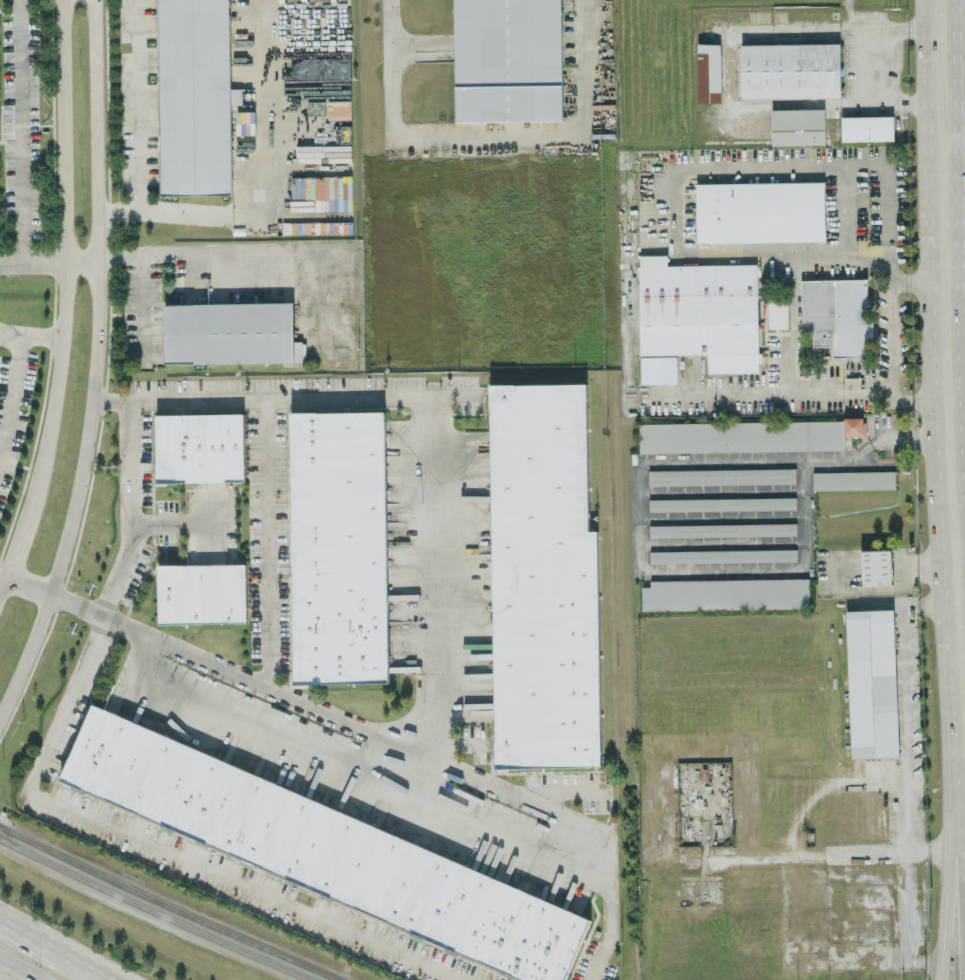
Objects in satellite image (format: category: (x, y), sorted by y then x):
road: (807, 34)
road: (866, 59)
building: (508, 60)
building: (790, 70)
building: (709, 72)
building: (195, 97)
road: (765, 104)
road: (137, 105)
building: (798, 126)
building: (867, 127)
road: (953, 128)
road: (19, 131)
road: (942, 139)
road: (487, 140)
road: (954, 186)
road: (269, 194)
road: (675, 200)
building: (760, 211)
road: (210, 250)
road: (121, 253)
road: (82, 262)
road: (32, 263)
road: (65, 265)
road: (918, 279)
road: (954, 279)
road: (142, 306)
building: (700, 311)
building: (777, 313)
building: (836, 315)
road: (792, 328)
road: (10, 331)
building: (230, 332)
road: (42, 336)
road: (892, 339)
road: (956, 354)
road: (97, 364)
road: (956, 379)
road: (11, 393)
road: (288, 397)
road: (792, 399)
building: (747, 435)
road: (949, 441)
building: (200, 447)
building: (721, 476)
building: (854, 479)
building: (722, 503)
road: (206, 522)
road: (169, 524)
building: (722, 529)
road: (266, 543)
building: (339, 547)
road: (14, 551)
building: (723, 555)
road: (961, 560)
building: (876, 566)
road: (437, 579)
building: (543, 579)
road: (3, 585)
road: (28, 586)
building: (202, 593)
building: (726, 593)
road: (108, 603)
road: (962, 618)
road: (964, 634)
road: (964, 643)
building: (872, 683)
road: (903, 721)
road: (395, 744)
road: (282, 753)
road: (362, 757)
road: (406, 762)
road: (319, 767)
road: (946, 825)
road: (959, 838)
building: (324, 849)
road: (244, 887)
railway: (167, 906)
railway: (153, 912)
road: (31, 933)
road: (89, 965)
road: (10, 974)

